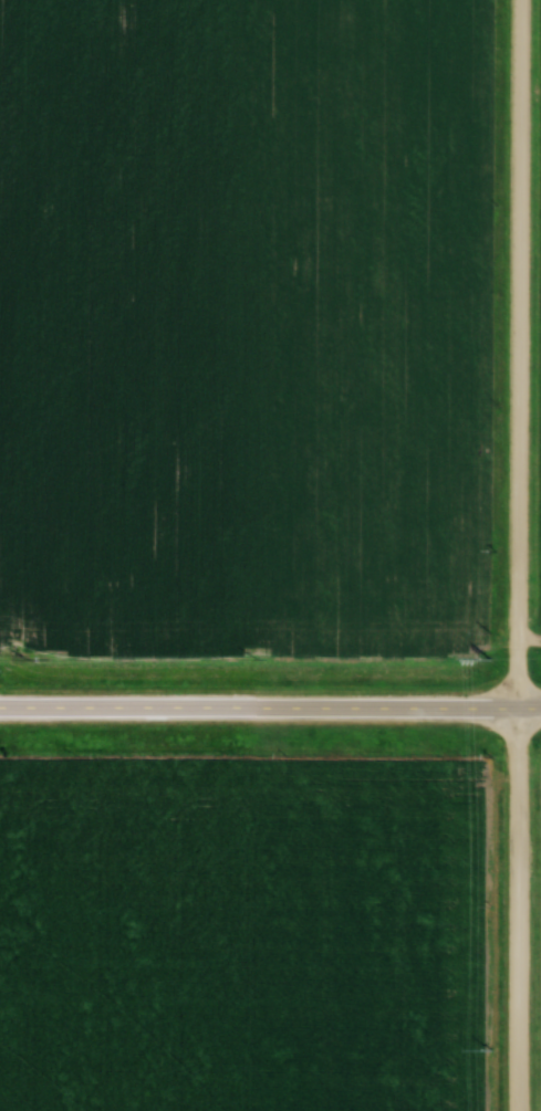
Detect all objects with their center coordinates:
road: (520, 355)
road: (270, 711)
road: (520, 911)

